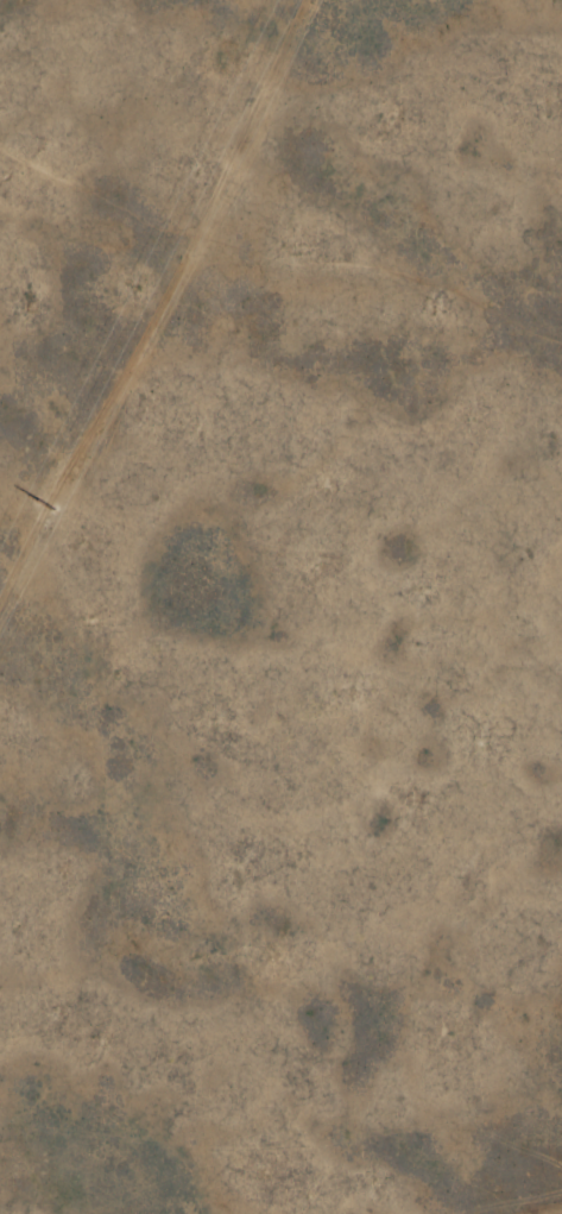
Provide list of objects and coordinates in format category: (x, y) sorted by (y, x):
power tower: (48, 502)

